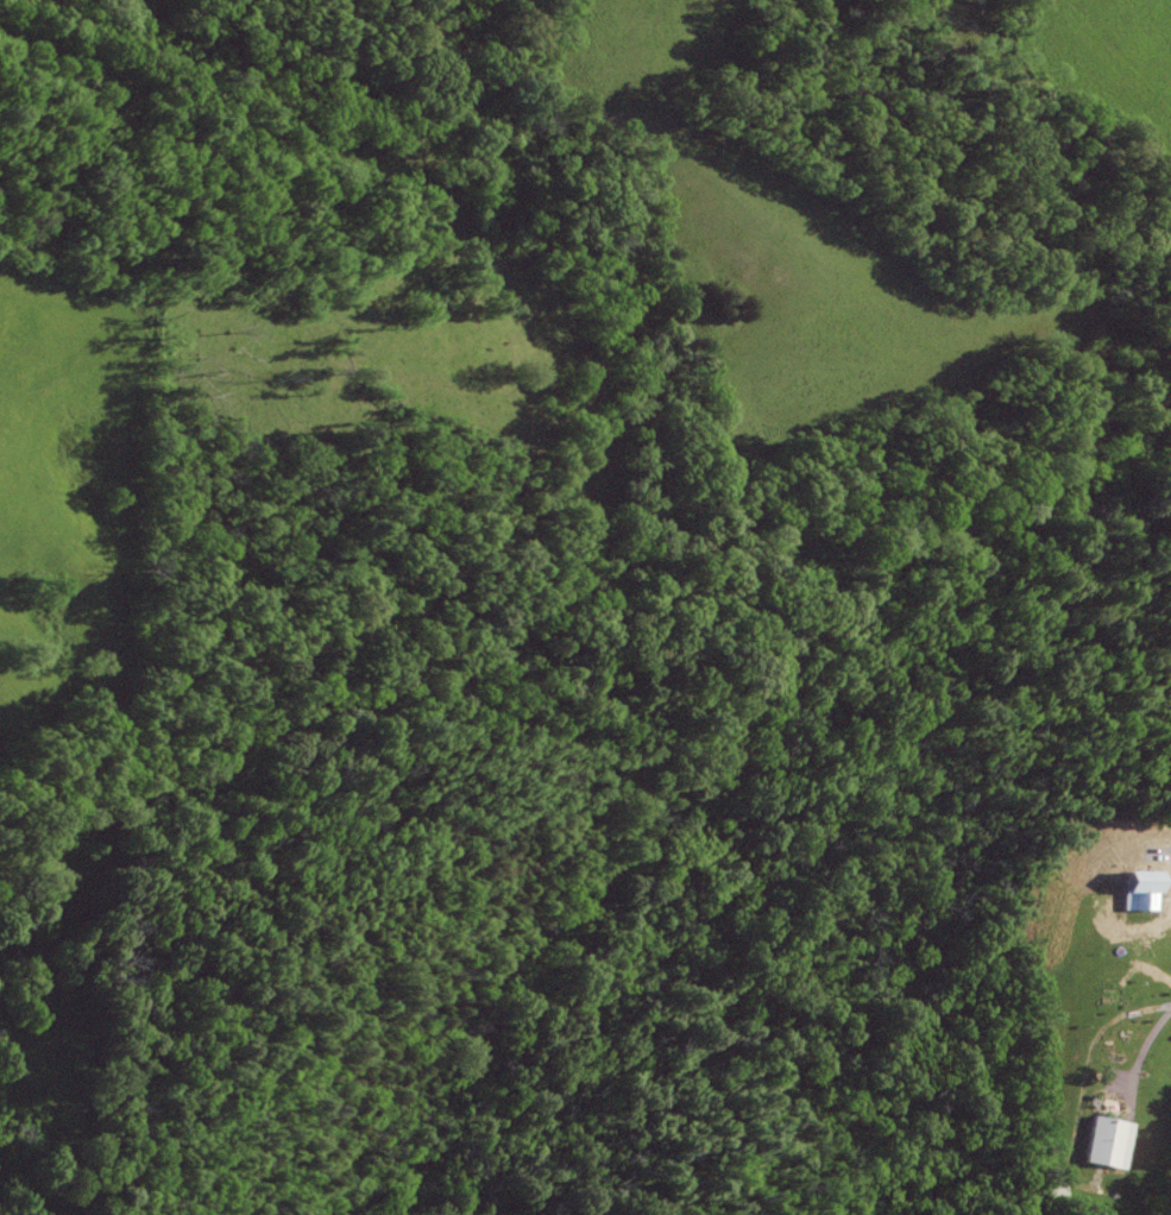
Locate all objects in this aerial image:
building: (1137, 890)
road: (1097, 1066)
building: (1107, 1142)

